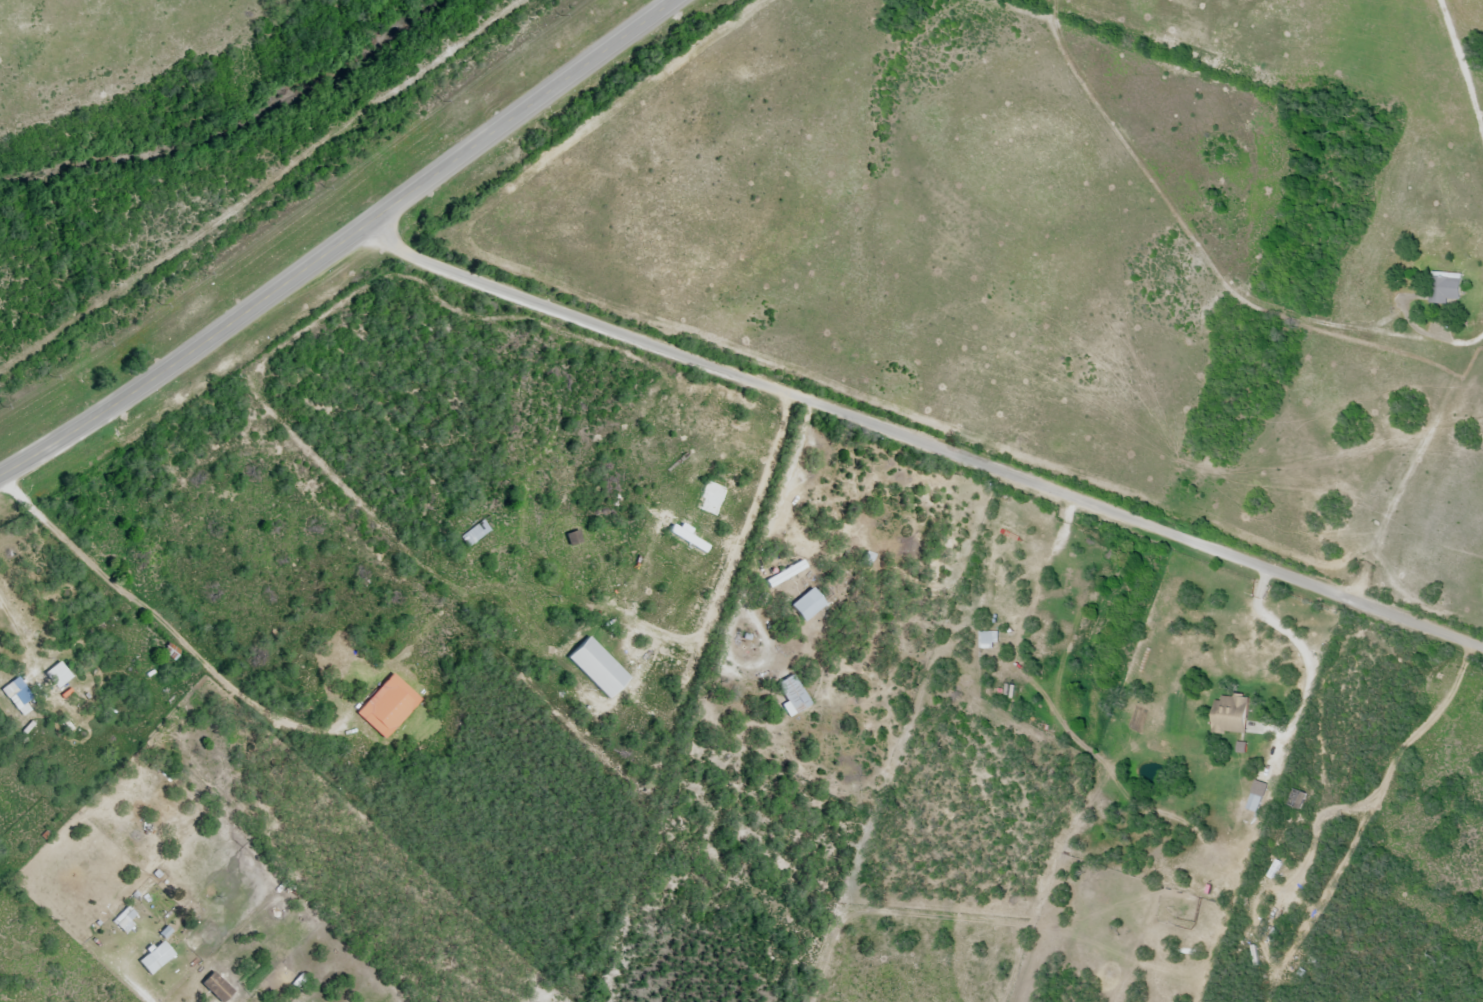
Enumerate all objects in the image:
railway: (272, 198)
road: (341, 243)
building: (1445, 289)
road: (922, 445)
building: (473, 533)
building: (571, 538)
building: (988, 640)
building: (169, 652)
building: (595, 668)
building: (55, 676)
building: (791, 694)
building: (16, 696)
building: (386, 706)
building: (1230, 715)
building: (1256, 797)
road: (1369, 798)
building: (1295, 800)
building: (122, 925)

